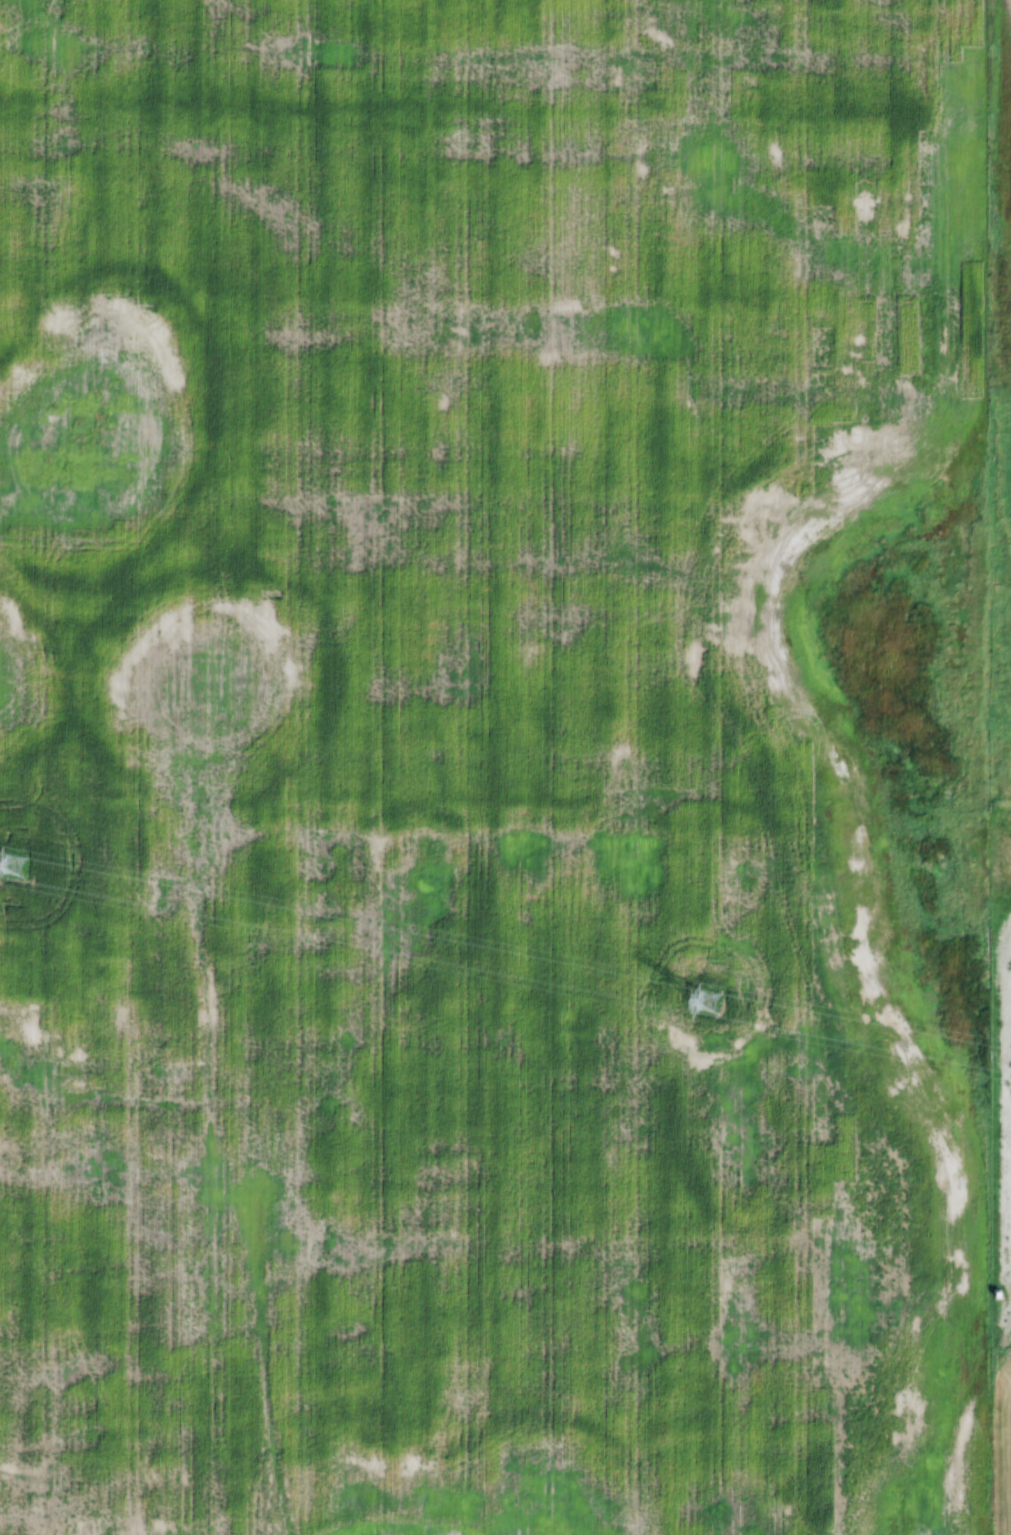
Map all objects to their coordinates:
power tower: (20, 847)
power tower: (726, 989)

